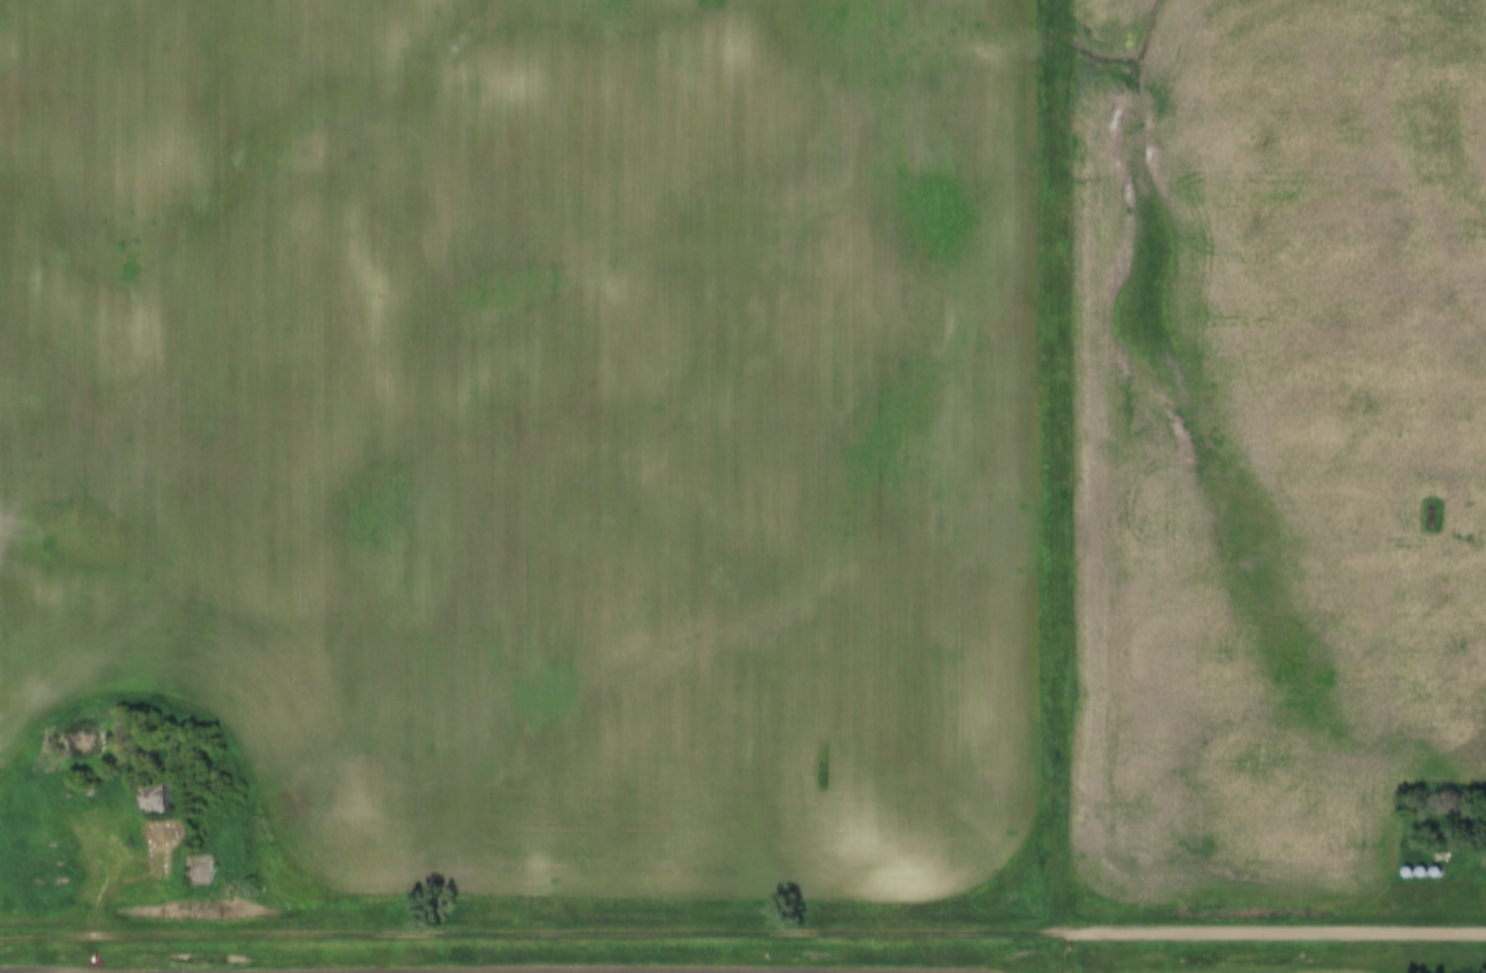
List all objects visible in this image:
road: (31, 420)
building: (159, 806)
building: (201, 875)
road: (517, 936)
road: (1260, 936)

